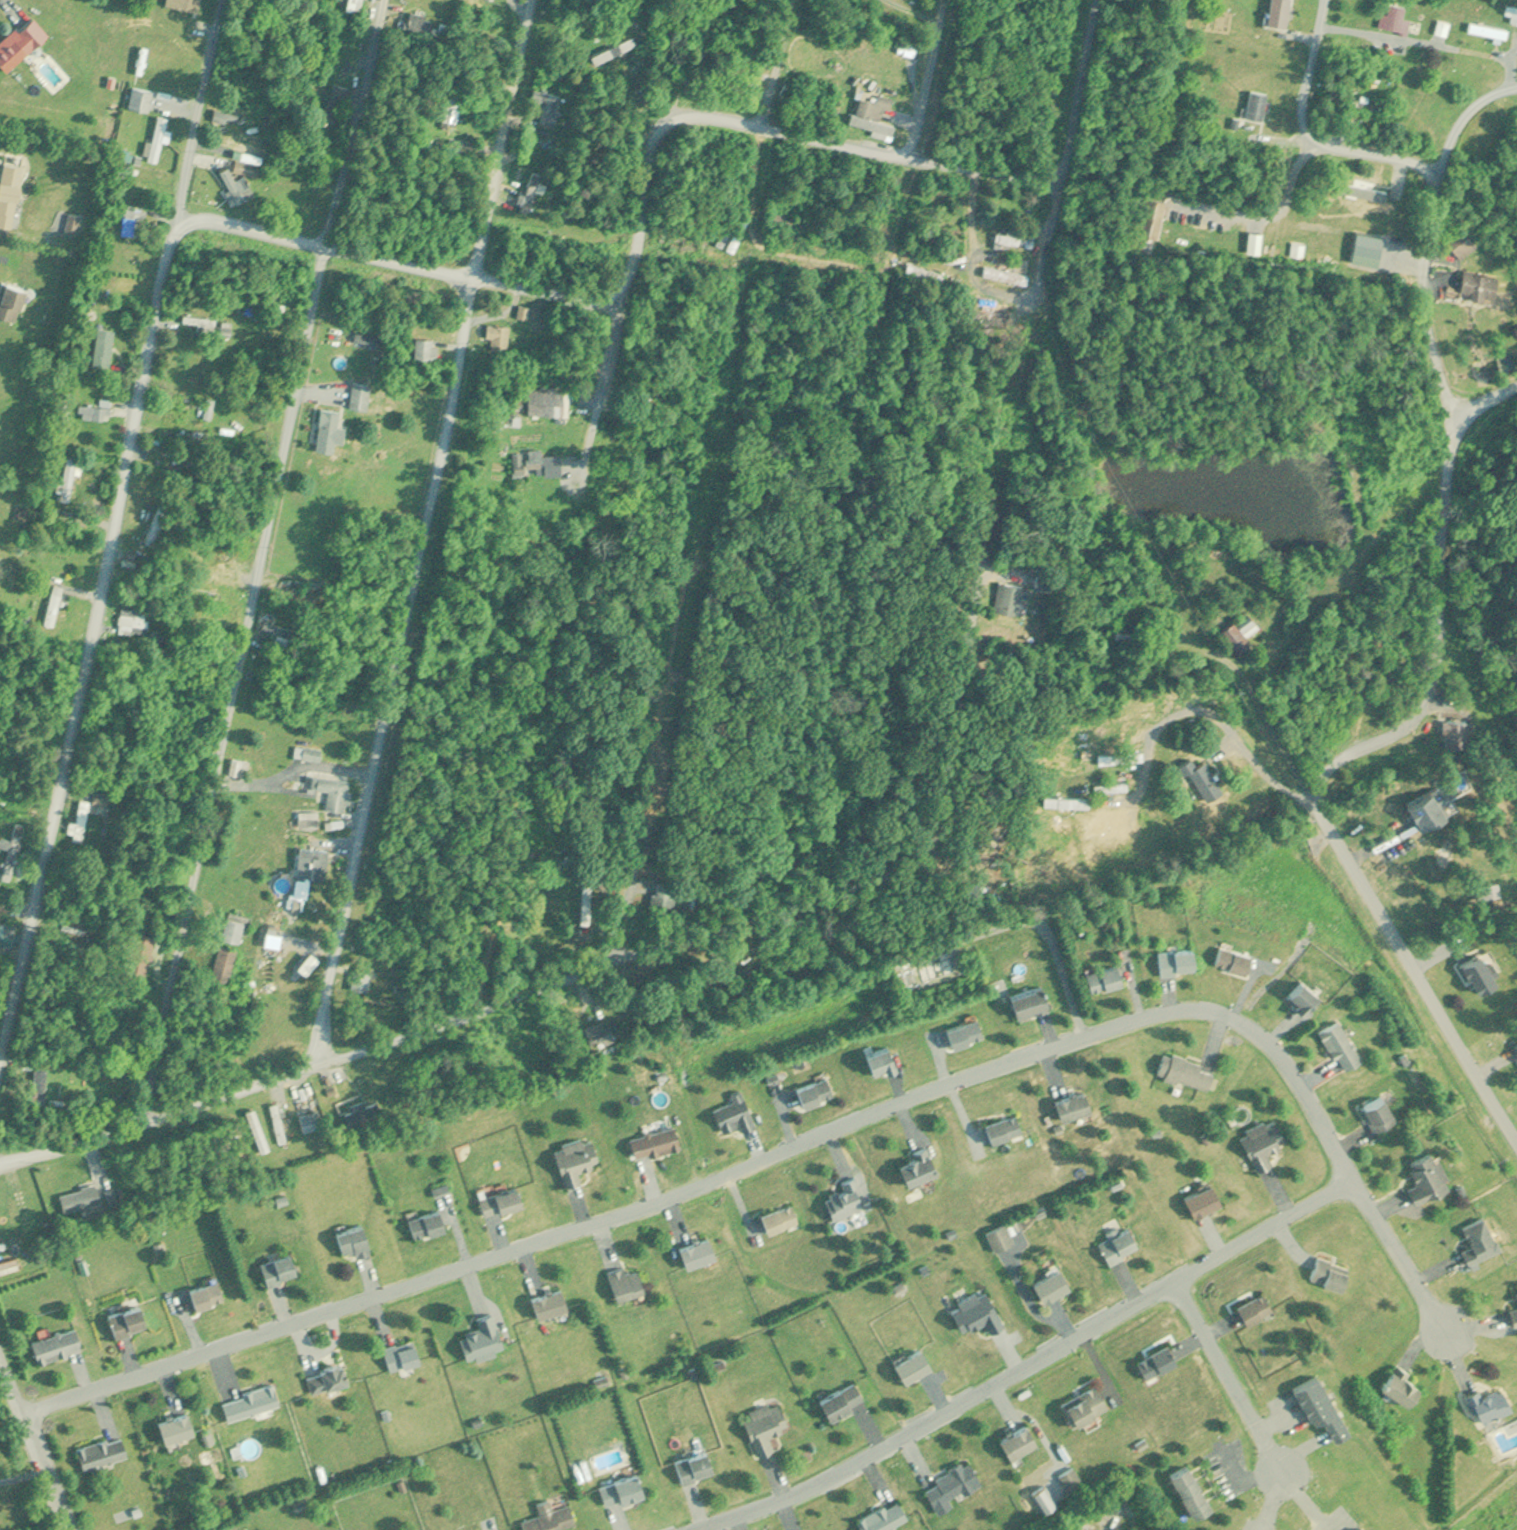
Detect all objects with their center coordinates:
building: (185, 4)
building: (355, 5)
road: (8, 7)
building: (1512, 11)
building: (1396, 18)
building: (424, 23)
building: (1444, 27)
building: (17, 45)
building: (614, 50)
road: (772, 62)
road: (921, 77)
road: (1076, 90)
building: (140, 98)
building: (336, 101)
building: (1262, 101)
building: (1360, 101)
building: (549, 106)
building: (452, 107)
building: (874, 114)
road: (1314, 130)
building: (251, 168)
building: (237, 186)
building: (1368, 192)
building: (9, 194)
road: (1271, 213)
building: (134, 221)
building: (793, 221)
building: (1153, 221)
road: (641, 229)
building: (733, 230)
road: (1432, 235)
building: (1007, 240)
building: (1370, 243)
building: (1464, 243)
road: (1045, 255)
building: (1482, 285)
road: (606, 373)
road: (1482, 506)
road: (416, 531)
road: (117, 537)
road: (254, 563)
road: (1210, 709)
road: (1349, 758)
road: (283, 767)
road: (631, 900)
road: (599, 967)
road: (723, 1171)
road: (1402, 1257)
road: (1028, 1364)
road: (1231, 1374)
road: (34, 1443)
road: (22, 1474)

